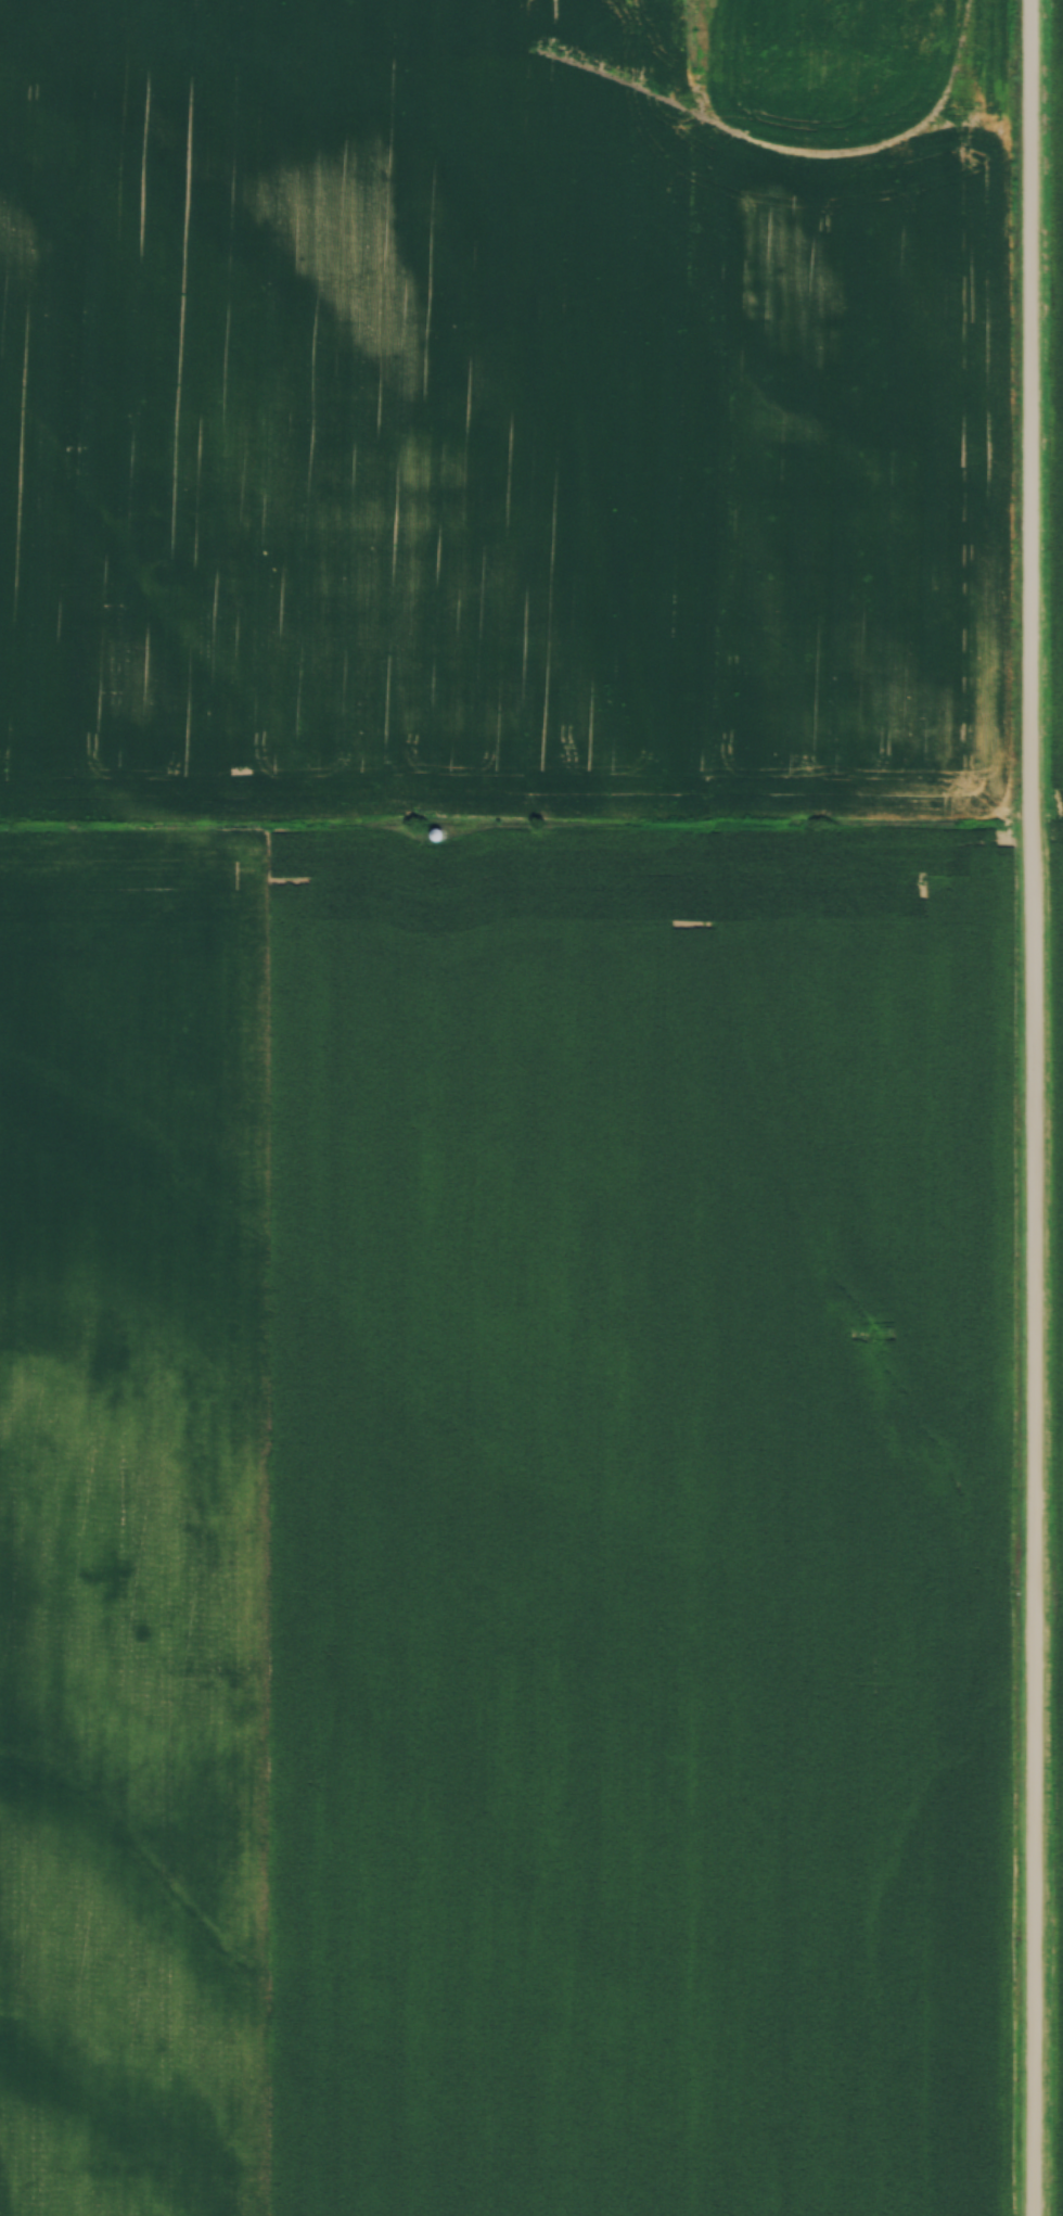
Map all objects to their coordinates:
road: (1028, 1107)

